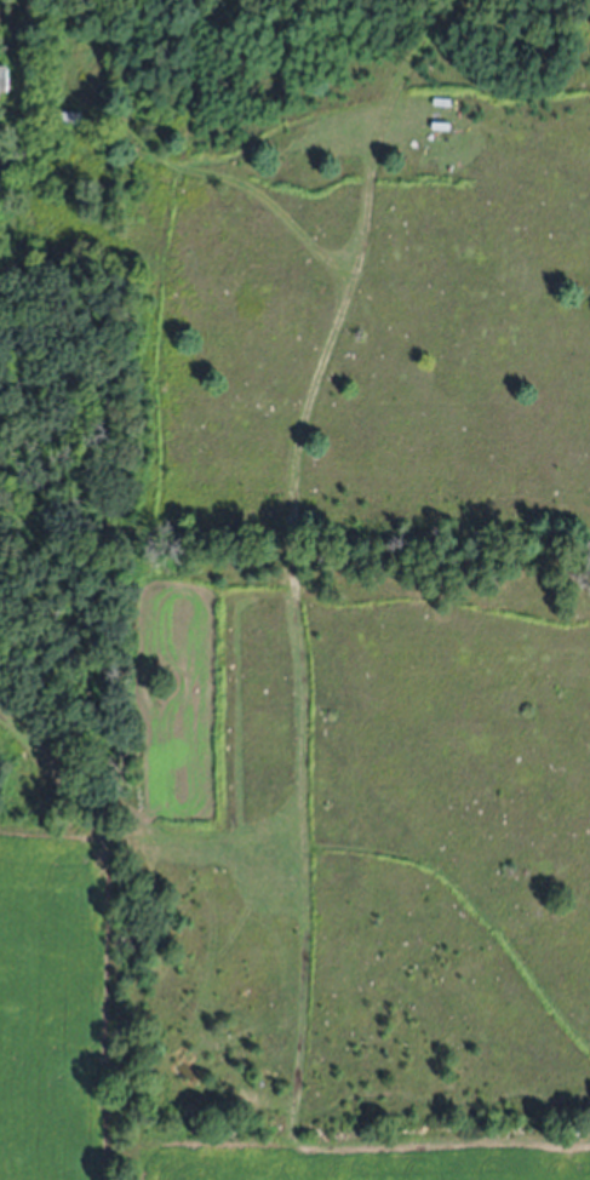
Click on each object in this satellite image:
building: (6, 80)
building: (76, 120)

